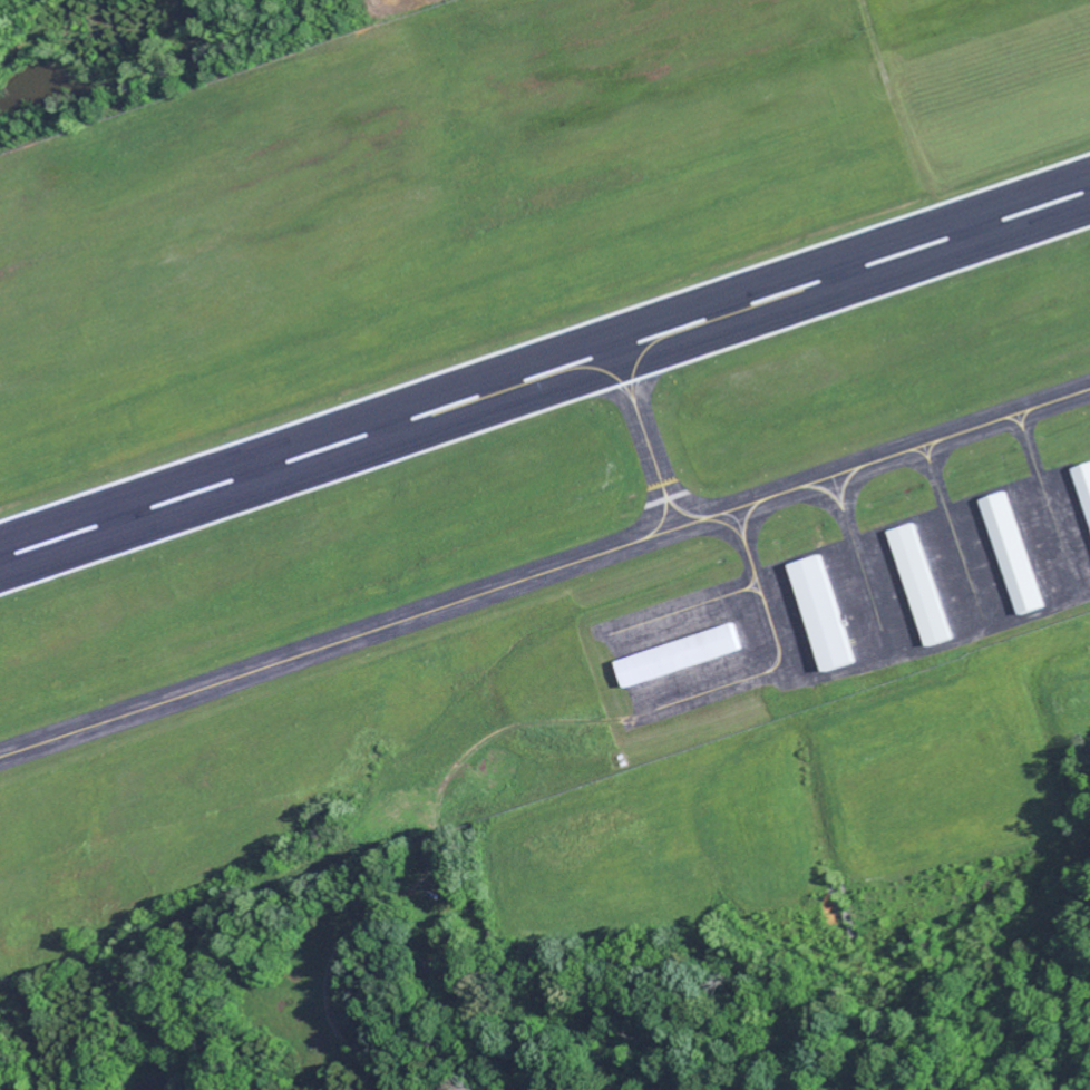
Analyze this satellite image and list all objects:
airport runway: (545, 374)
airport taxiway: (649, 438)
building: (1083, 484)
airport taxiway: (1048, 500)
airport taxiway: (952, 528)
building: (1011, 553)
airport taxiway: (859, 563)
airport taxiway: (545, 572)
building: (917, 583)
airport taxiway: (759, 591)
building: (819, 614)
building: (678, 655)

